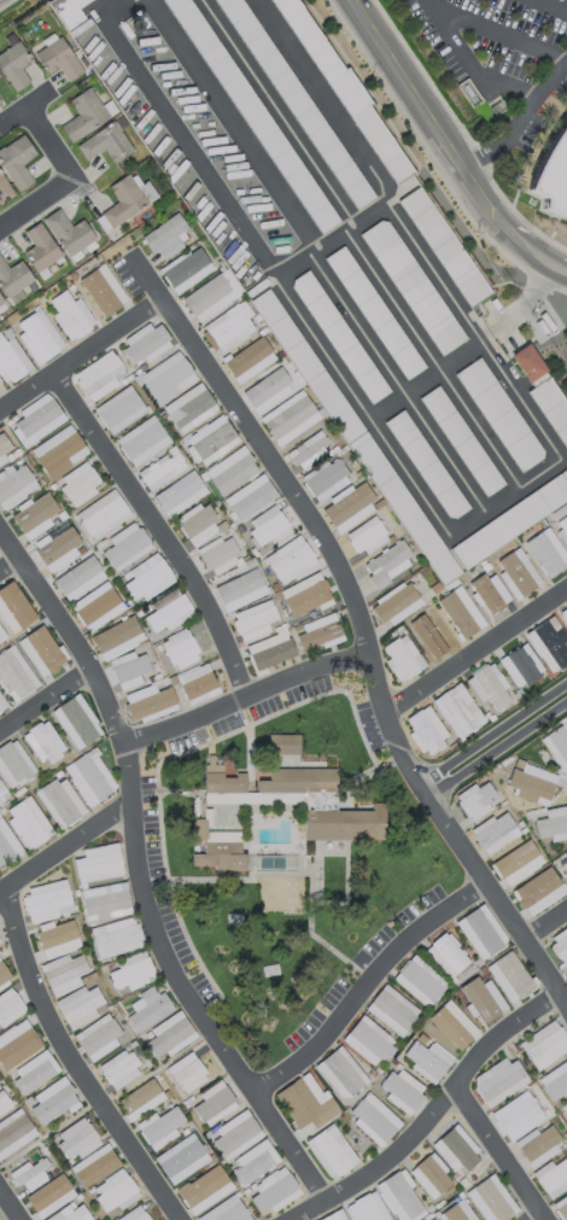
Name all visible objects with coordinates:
road: (549, 7)
building: (68, 12)
road: (498, 35)
building: (57, 57)
parking lot: (499, 60)
building: (14, 64)
road: (467, 65)
building: (341, 87)
building: (294, 100)
road: (23, 105)
building: (83, 113)
building: (255, 116)
road: (518, 122)
road: (45, 144)
building: (105, 144)
road: (446, 147)
building: (17, 162)
building: (554, 180)
building: (5, 189)
building: (125, 199)
road: (35, 203)
building: (68, 232)
building: (164, 237)
road: (333, 240)
road: (355, 245)
building: (443, 246)
building: (40, 249)
road: (315, 256)
building: (186, 268)
building: (14, 279)
building: (411, 286)
building: (103, 292)
building: (211, 294)
building: (1, 303)
building: (373, 311)
building: (70, 315)
building: (232, 326)
building: (37, 335)
building: (338, 335)
road: (98, 340)
building: (145, 343)
building: (11, 358)
building: (250, 358)
building: (527, 362)
building: (98, 375)
building: (166, 378)
road: (426, 380)
building: (268, 389)
building: (189, 408)
building: (551, 408)
building: (119, 409)
building: (498, 414)
building: (36, 418)
building: (290, 418)
building: (347, 426)
building: (210, 439)
building: (141, 440)
building: (460, 440)
building: (5, 449)
building: (308, 450)
building: (58, 451)
building: (425, 465)
building: (160, 468)
building: (230, 471)
road: (276, 471)
building: (322, 475)
building: (14, 483)
building: (80, 483)
building: (179, 494)
building: (250, 497)
building: (530, 507)
building: (352, 508)
building: (35, 514)
building: (101, 514)
road: (463, 521)
building: (198, 523)
building: (267, 527)
building: (562, 527)
road: (158, 532)
building: (367, 536)
building: (124, 545)
building: (58, 548)
building: (545, 551)
building: (218, 554)
building: (288, 559)
road: (7, 564)
building: (387, 564)
building: (516, 572)
building: (78, 577)
building: (146, 578)
building: (240, 589)
building: (489, 591)
building: (305, 595)
building: (396, 603)
building: (13, 605)
building: (97, 606)
building: (168, 611)
building: (460, 612)
building: (565, 612)
building: (253, 620)
building: (317, 632)
building: (1, 634)
building: (431, 634)
road: (69, 636)
building: (117, 637)
building: (548, 644)
building: (180, 649)
building: (42, 650)
road: (472, 650)
building: (270, 652)
building: (514, 656)
building: (402, 658)
building: (129, 670)
building: (14, 673)
building: (480, 678)
building: (197, 683)
road: (43, 697)
building: (1, 702)
building: (148, 702)
building: (454, 706)
building: (76, 720)
building: (426, 731)
building: (43, 742)
building: (282, 743)
road: (496, 743)
building: (557, 743)
building: (13, 764)
building: (90, 777)
building: (530, 782)
building: (222, 783)
building: (303, 784)
building: (2, 794)
building: (477, 800)
building: (59, 801)
building: (28, 822)
building: (343, 824)
building: (553, 824)
building: (199, 829)
building: (495, 831)
building: (7, 845)
road: (66, 852)
building: (566, 854)
building: (220, 856)
building: (514, 860)
building: (98, 863)
building: (565, 871)
building: (537, 894)
building: (46, 900)
building: (105, 901)
road: (540, 920)
building: (481, 932)
road: (162, 933)
building: (54, 935)
building: (115, 938)
building: (559, 939)
road: (522, 946)
building: (446, 955)
building: (64, 970)
building: (566, 971)
building: (4, 973)
building: (130, 973)
building: (510, 977)
building: (419, 981)
building: (479, 999)
building: (81, 1004)
building: (10, 1006)
building: (392, 1009)
building: (148, 1010)
building: (450, 1028)
building: (13, 1035)
building: (534, 1035)
building: (99, 1037)
building: (168, 1037)
building: (368, 1041)
building: (425, 1058)
road: (75, 1063)
building: (118, 1067)
building: (25, 1068)
building: (551, 1070)
building: (187, 1072)
building: (340, 1073)
building: (496, 1078)
building: (401, 1091)
building: (140, 1099)
building: (1, 1101)
building: (214, 1104)
building: (53, 1105)
building: (302, 1107)
building: (560, 1107)
building: (510, 1108)
road: (438, 1115)
building: (373, 1120)
building: (160, 1125)
building: (12, 1132)
building: (234, 1133)
building: (76, 1138)
building: (538, 1144)
building: (325, 1148)
road: (291, 1151)
building: (458, 1151)
building: (179, 1156)
road: (497, 1156)
building: (253, 1163)
building: (95, 1167)
building: (29, 1172)
building: (432, 1177)
building: (553, 1177)
building: (201, 1187)
building: (113, 1192)
building: (48, 1193)
building: (273, 1193)
building: (402, 1197)
building: (492, 1201)
road: (8, 1206)
building: (363, 1209)
building: (562, 1210)
building: (234, 1213)
building: (454, 1213)
building: (77, 1214)
road: (530, 1215)
building: (142, 1218)
building: (331, 1218)
building: (432, 1219)

